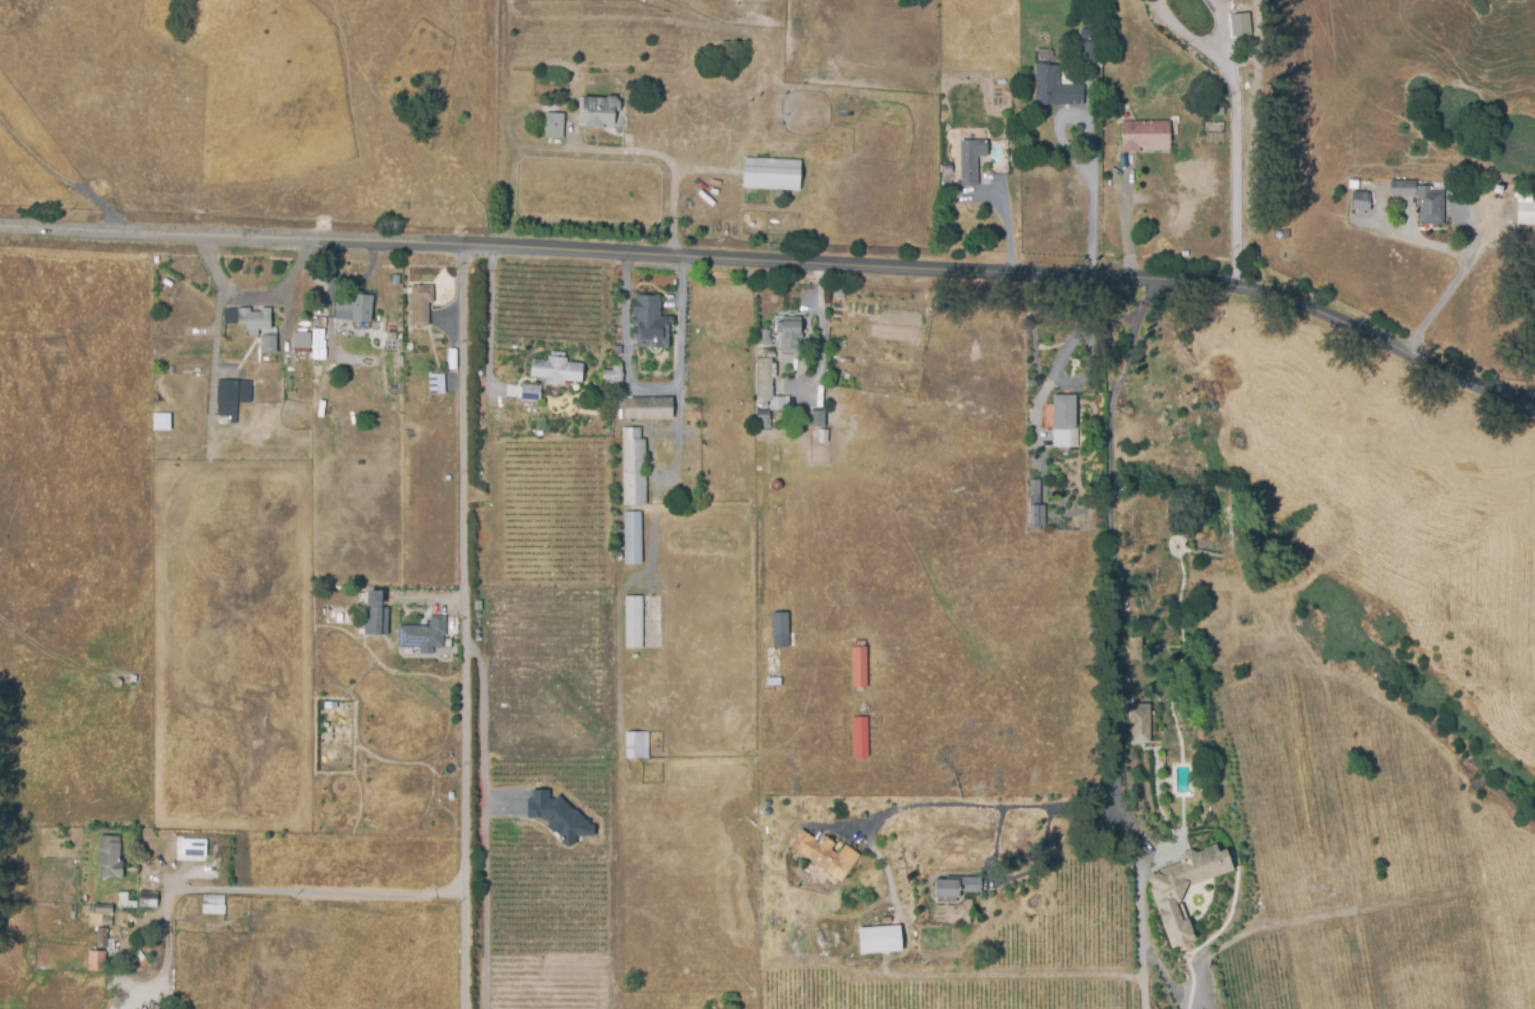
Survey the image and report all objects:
building: (1238, 24)
road: (1186, 35)
building: (1055, 85)
building: (599, 110)
building: (1125, 111)
building: (555, 125)
building: (1143, 135)
road: (1234, 141)
road: (1070, 154)
building: (973, 157)
road: (668, 161)
building: (771, 171)
road: (61, 177)
building: (1499, 182)
building: (1421, 200)
building: (1526, 200)
building: (1357, 202)
road: (1127, 227)
road: (1006, 229)
building: (1286, 233)
building: (156, 260)
road: (778, 264)
building: (168, 283)
road: (1448, 290)
road: (255, 295)
building: (423, 305)
building: (348, 308)
building: (249, 320)
building: (650, 322)
building: (158, 329)
building: (788, 333)
building: (302, 339)
building: (765, 339)
building: (438, 342)
road: (819, 342)
building: (317, 344)
building: (268, 345)
building: (556, 367)
road: (1057, 367)
building: (613, 372)
building: (763, 378)
building: (438, 384)
road: (655, 391)
building: (531, 392)
building: (231, 398)
building: (780, 403)
building: (648, 408)
building: (764, 419)
building: (816, 419)
building: (1069, 419)
building: (162, 422)
building: (633, 465)
building: (1037, 506)
building: (633, 537)
building: (375, 615)
building: (635, 621)
road: (464, 628)
building: (779, 630)
road: (1107, 630)
building: (429, 638)
building: (1132, 645)
building: (860, 665)
building: (134, 683)
building: (772, 683)
building: (1139, 722)
building: (860, 738)
building: (636, 745)
road: (988, 802)
building: (558, 817)
building: (827, 853)
building: (110, 861)
building: (958, 886)
building: (1185, 887)
road: (320, 893)
building: (123, 902)
building: (149, 902)
building: (215, 902)
building: (102, 908)
building: (84, 912)
building: (104, 913)
building: (106, 923)
building: (878, 939)
building: (103, 942)
building: (97, 964)
road: (1144, 993)

